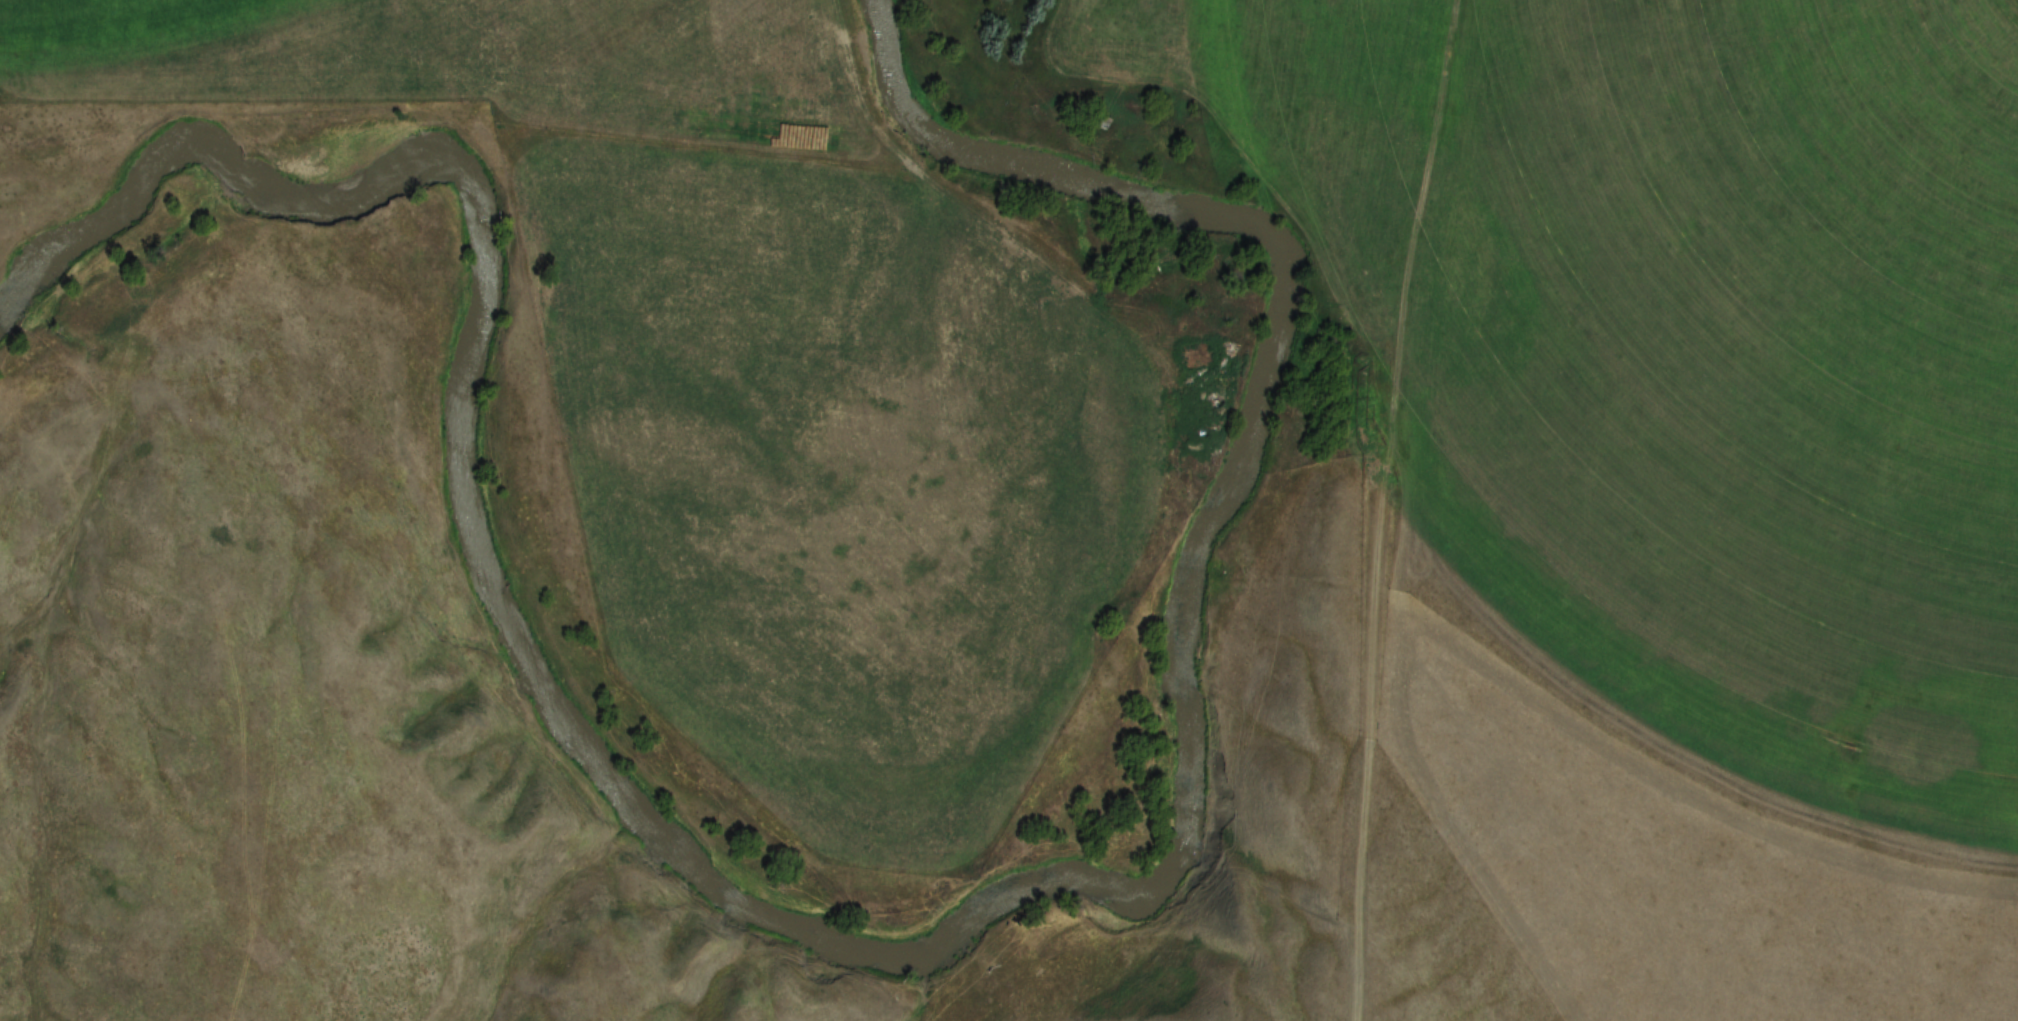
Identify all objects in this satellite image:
river: (860, 958)

